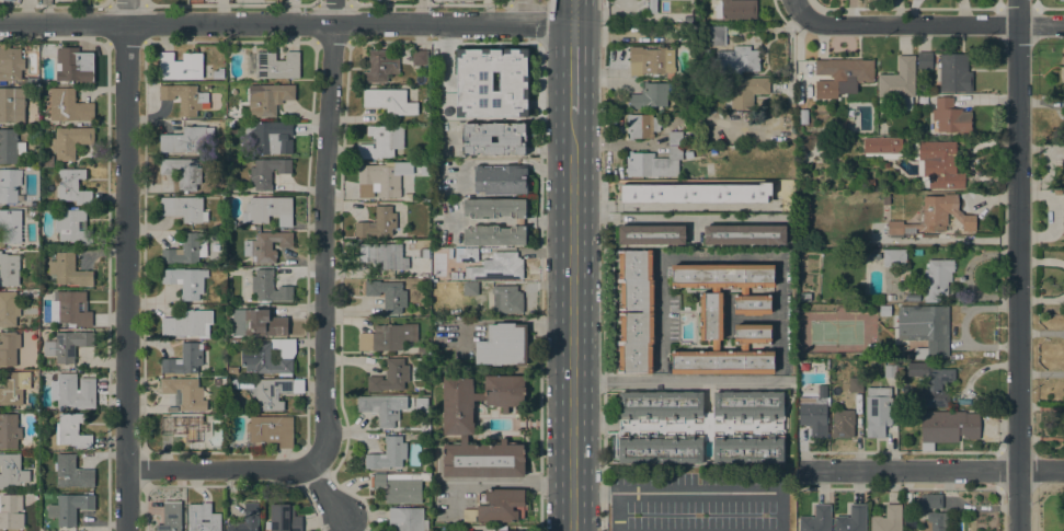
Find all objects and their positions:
building: (267, 0)
building: (465, 0)
building: (276, 1)
building: (1059, 1)
building: (651, 7)
road: (797, 7)
building: (735, 9)
road: (525, 11)
road: (572, 12)
road: (286, 23)
road: (931, 24)
building: (656, 33)
building: (717, 35)
building: (33, 47)
building: (421, 57)
building: (739, 59)
building: (650, 60)
building: (924, 60)
building: (1063, 61)
building: (75, 65)
building: (273, 65)
road: (572, 65)
building: (13, 66)
building: (180, 66)
building: (379, 66)
building: (207, 70)
building: (954, 72)
building: (218, 73)
building: (842, 76)
building: (473, 83)
building: (899, 83)
building: (746, 90)
building: (649, 95)
building: (184, 97)
building: (267, 99)
building: (389, 101)
building: (12, 104)
building: (69, 106)
building: (1063, 109)
building: (238, 114)
building: (802, 116)
building: (950, 116)
building: (230, 124)
building: (839, 124)
building: (641, 125)
building: (272, 137)
building: (186, 139)
building: (511, 139)
building: (675, 139)
building: (69, 141)
building: (380, 141)
road: (616, 145)
building: (881, 145)
building: (10, 146)
building: (1063, 159)
building: (46, 161)
building: (653, 163)
building: (425, 164)
building: (940, 164)
building: (182, 172)
building: (266, 172)
building: (381, 180)
building: (501, 180)
building: (870, 183)
building: (9, 185)
building: (72, 186)
building: (695, 193)
building: (183, 208)
building: (494, 208)
building: (267, 209)
building: (1063, 209)
building: (945, 213)
building: (519, 221)
building: (378, 222)
building: (230, 224)
road: (682, 224)
building: (10, 226)
building: (72, 227)
building: (250, 227)
building: (900, 227)
building: (651, 234)
building: (745, 234)
building: (493, 235)
building: (266, 245)
building: (186, 249)
building: (917, 252)
building: (466, 254)
building: (382, 255)
building: (894, 257)
road: (719, 258)
road: (125, 265)
road: (1017, 265)
road: (321, 267)
building: (497, 267)
building: (9, 269)
building: (69, 270)
building: (454, 275)
building: (722, 275)
building: (460, 276)
building: (937, 279)
building: (185, 280)
building: (268, 287)
building: (470, 288)
building: (716, 289)
building: (744, 291)
building: (388, 295)
building: (804, 297)
building: (508, 299)
building: (752, 304)
building: (8, 309)
building: (69, 309)
building: (648, 311)
building: (711, 315)
road: (571, 319)
building: (258, 323)
building: (187, 324)
building: (926, 328)
building: (753, 333)
building: (386, 338)
building: (66, 345)
building: (503, 345)
building: (716, 345)
building: (9, 348)
building: (422, 350)
building: (184, 359)
building: (263, 359)
building: (722, 361)
building: (232, 369)
building: (890, 370)
building: (390, 377)
building: (217, 381)
road: (685, 383)
building: (931, 383)
building: (856, 384)
building: (14, 388)
building: (73, 391)
building: (822, 391)
building: (271, 392)
building: (185, 393)
building: (421, 405)
building: (380, 408)
building: (878, 411)
building: (813, 415)
building: (458, 424)
building: (843, 424)
building: (421, 425)
building: (700, 427)
building: (948, 427)
building: (184, 429)
building: (71, 430)
building: (9, 431)
building: (270, 431)
building: (388, 453)
road: (217, 469)
road: (929, 470)
building: (12, 471)
building: (71, 472)
road: (496, 481)
building: (399, 486)
road: (697, 489)
building: (930, 500)
building: (500, 506)
building: (71, 508)
building: (10, 510)
road: (615, 511)
building: (468, 515)
building: (170, 517)
building: (203, 518)
building: (284, 518)
building: (247, 519)
building: (407, 519)
building: (816, 519)
building: (851, 519)
building: (888, 519)
building: (934, 521)
building: (909, 522)
building: (499, 530)

